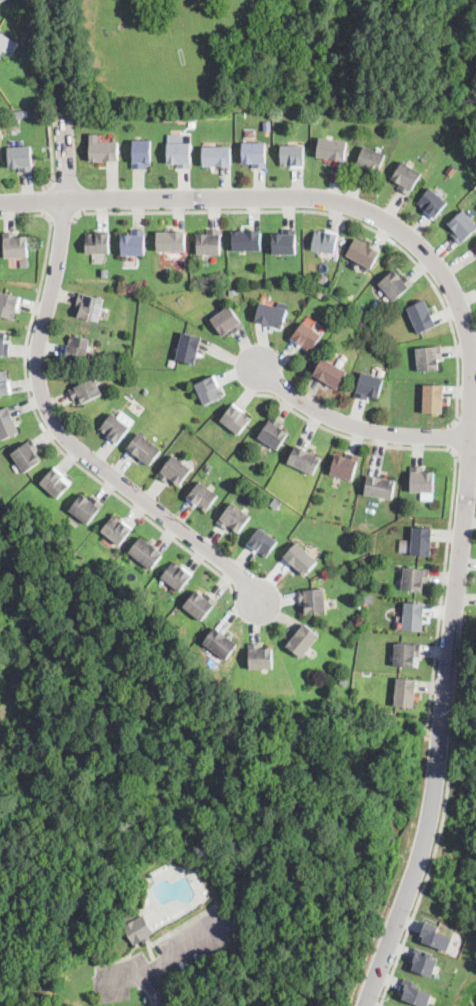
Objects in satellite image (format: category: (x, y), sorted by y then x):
building: (1, 0)
building: (3, 42)
building: (293, 111)
building: (18, 114)
building: (192, 125)
building: (266, 127)
building: (331, 149)
building: (104, 151)
building: (141, 153)
building: (179, 155)
building: (255, 155)
road: (51, 156)
building: (216, 156)
building: (292, 156)
building: (20, 158)
building: (370, 161)
building: (451, 169)
building: (406, 177)
road: (47, 199)
building: (431, 202)
road: (340, 215)
road: (62, 219)
building: (462, 226)
building: (246, 241)
building: (324, 241)
building: (171, 242)
building: (283, 242)
building: (97, 243)
building: (132, 243)
building: (209, 243)
building: (14, 245)
building: (363, 253)
building: (104, 274)
building: (323, 279)
building: (395, 284)
building: (233, 291)
building: (320, 293)
building: (8, 305)
building: (89, 306)
building: (271, 314)
building: (421, 316)
building: (227, 321)
building: (305, 337)
building: (3, 344)
building: (78, 348)
building: (189, 348)
building: (428, 358)
building: (329, 373)
building: (4, 383)
building: (369, 386)
building: (209, 389)
building: (86, 391)
building: (432, 399)
road: (47, 406)
road: (472, 408)
building: (236, 418)
road: (40, 421)
building: (7, 424)
road: (357, 425)
building: (117, 426)
building: (273, 433)
road: (452, 438)
building: (144, 449)
building: (26, 456)
building: (304, 460)
building: (344, 466)
building: (174, 471)
building: (55, 482)
building: (422, 482)
road: (454, 484)
building: (380, 487)
building: (202, 496)
building: (276, 504)
building: (86, 508)
building: (234, 518)
building: (117, 529)
building: (421, 541)
building: (263, 543)
building: (145, 553)
building: (300, 559)
building: (176, 575)
building: (414, 579)
building: (369, 598)
building: (313, 601)
building: (359, 603)
building: (199, 605)
building: (413, 616)
building: (302, 640)
building: (220, 643)
building: (406, 653)
building: (259, 657)
building: (343, 680)
building: (405, 692)
road: (441, 736)
road: (430, 874)
building: (139, 930)
building: (436, 935)
road: (167, 960)
building: (423, 962)
road: (156, 987)
road: (148, 993)
building: (415, 994)

